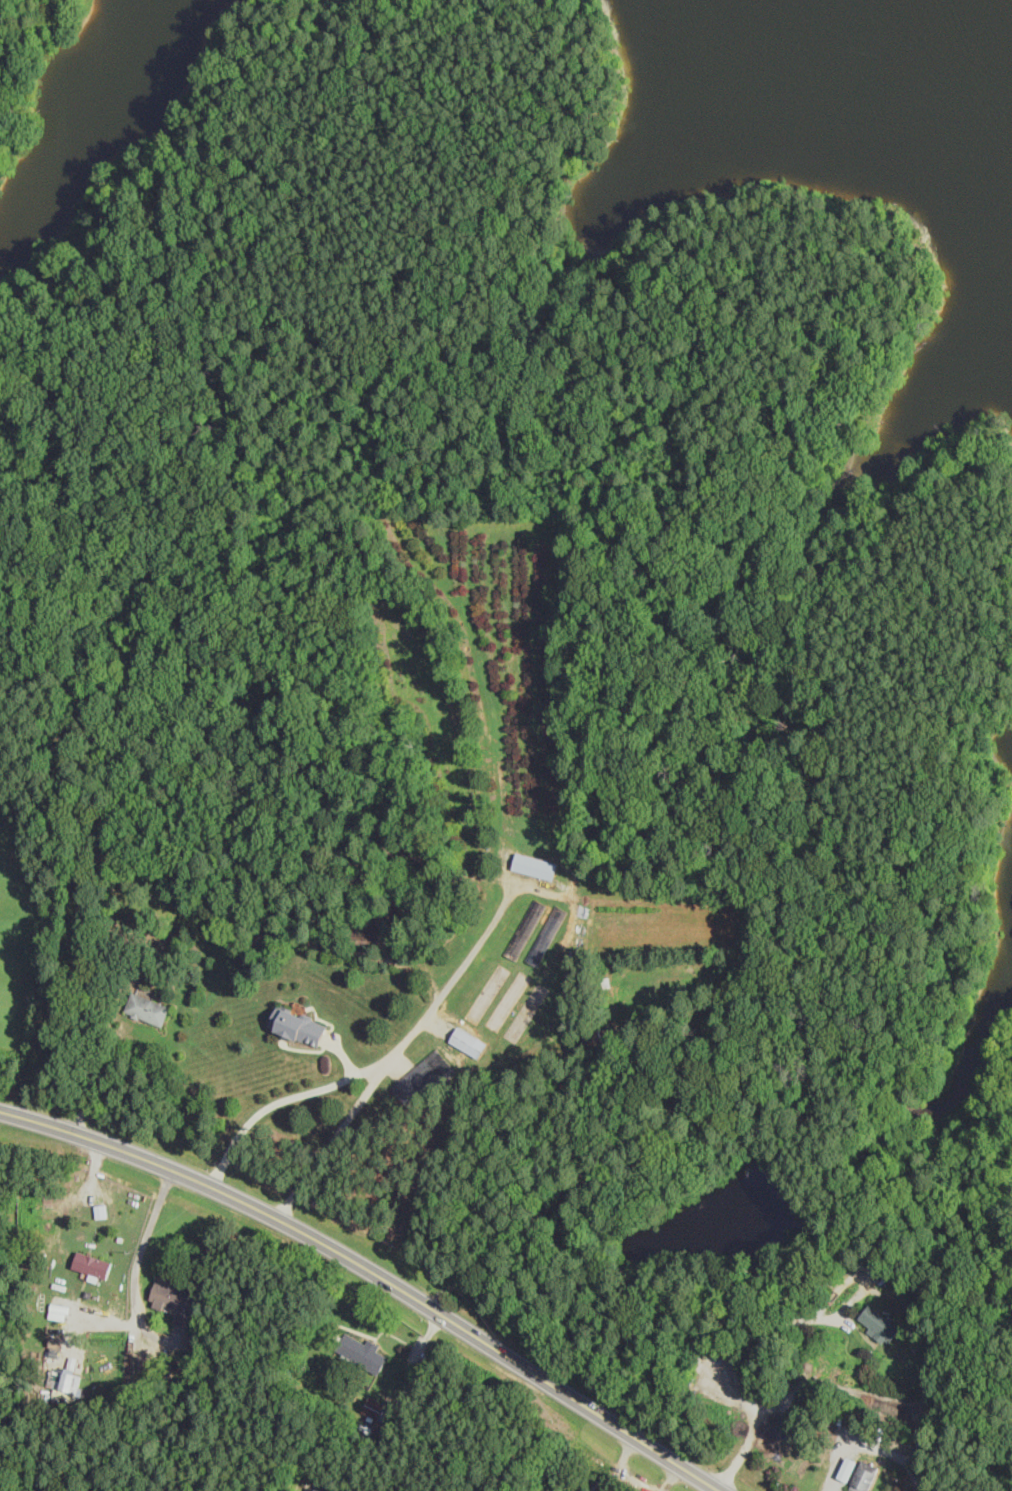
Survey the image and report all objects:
park: (30, 65)
road: (648, 276)
building: (108, 855)
building: (534, 868)
building: (527, 930)
building: (549, 937)
road: (958, 945)
road: (128, 964)
building: (489, 995)
road: (89, 1003)
building: (510, 1003)
building: (148, 1011)
building: (530, 1014)
road: (440, 1026)
building: (297, 1027)
road: (327, 1043)
building: (468, 1044)
road: (402, 1047)
road: (343, 1054)
road: (399, 1066)
building: (422, 1081)
building: (690, 1102)
road: (334, 1141)
pier: (743, 1154)
road: (572, 1188)
building: (92, 1266)
road: (136, 1273)
road: (374, 1273)
building: (175, 1299)
road: (805, 1317)
building: (880, 1323)
road: (103, 1326)
road: (428, 1335)
road: (396, 1336)
building: (934, 1339)
building: (362, 1351)
building: (66, 1383)
road: (796, 1390)
building: (376, 1417)
road: (620, 1462)
building: (864, 1476)
road: (672, 1478)
road: (834, 1481)
building: (313, 1489)
road: (833, 1490)

